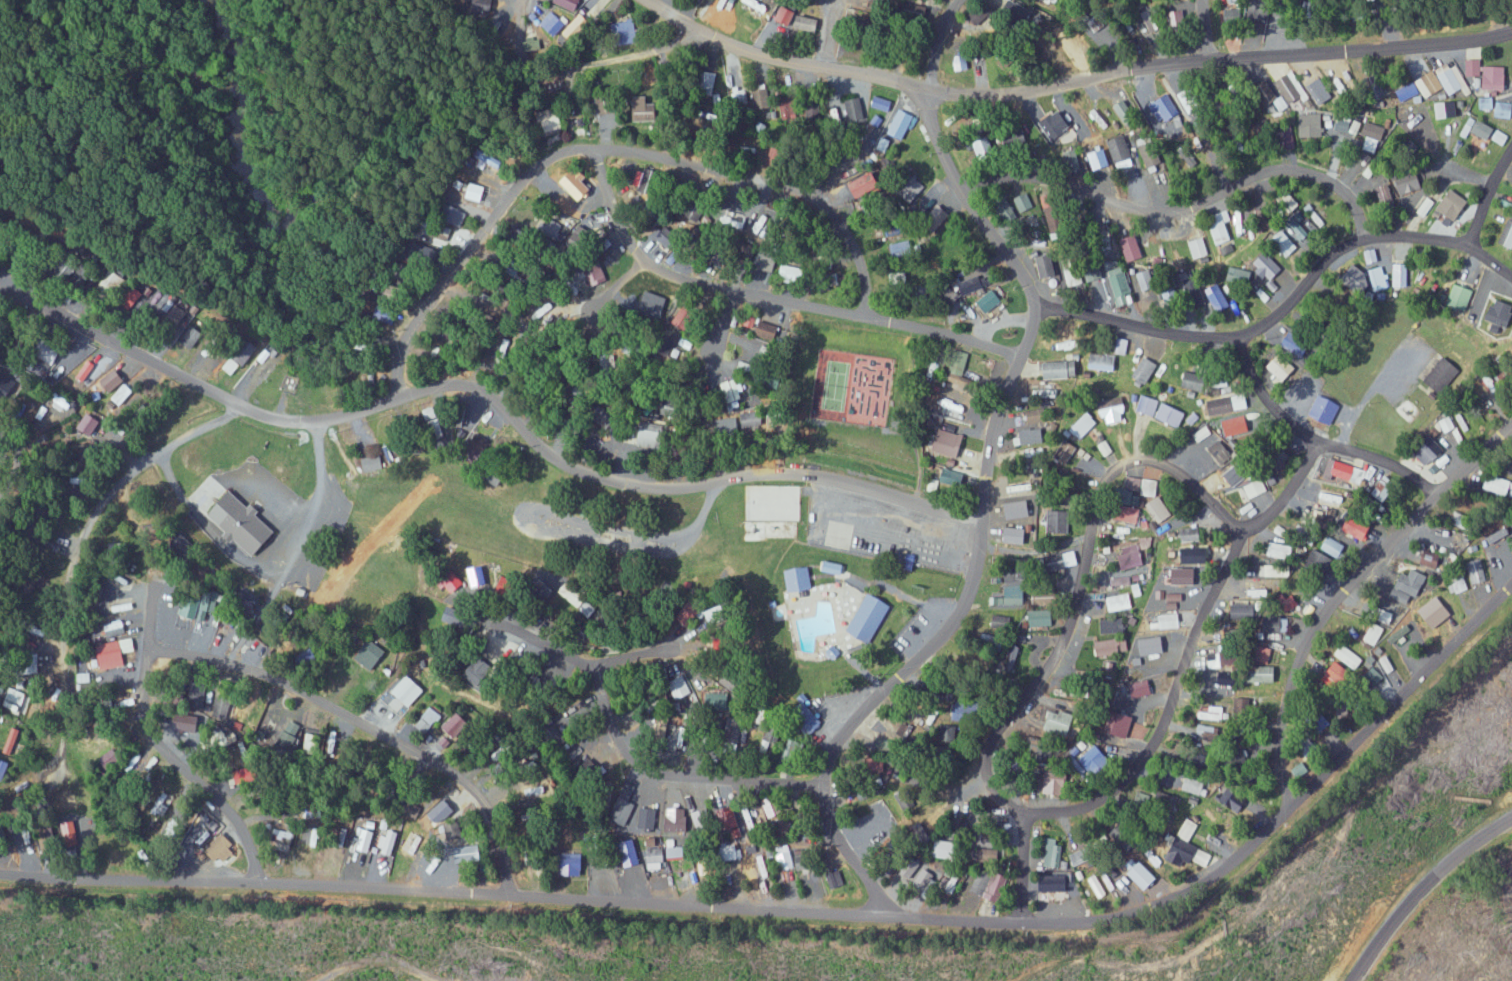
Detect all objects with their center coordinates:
road: (553, 3)
building: (569, 4)
building: (756, 9)
building: (783, 15)
building: (978, 16)
building: (1231, 16)
building: (852, 18)
building: (1179, 19)
building: (1147, 22)
building: (551, 23)
building: (807, 24)
building: (576, 27)
building: (624, 32)
road: (787, 33)
road: (933, 49)
building: (960, 62)
building: (1472, 67)
building: (707, 77)
building: (1450, 78)
building: (1493, 78)
building: (1511, 82)
road: (1069, 83)
building: (1428, 84)
building: (1298, 91)
building: (1407, 91)
building: (759, 98)
building: (1188, 98)
building: (1484, 103)
building: (881, 104)
building: (1162, 109)
building: (1503, 109)
building: (644, 110)
building: (786, 110)
building: (850, 110)
building: (1447, 111)
building: (1125, 112)
building: (900, 124)
building: (1310, 125)
building: (1341, 126)
building: (1481, 129)
building: (1498, 137)
building: (1369, 144)
road: (603, 147)
building: (986, 149)
building: (1117, 149)
building: (1151, 156)
road: (1482, 163)
road: (1492, 184)
building: (577, 185)
building: (1410, 186)
building: (476, 192)
building: (1384, 194)
building: (1023, 203)
building: (1453, 204)
building: (1426, 205)
road: (1184, 206)
building: (689, 211)
building: (1053, 213)
building: (457, 216)
building: (1237, 222)
building: (558, 227)
building: (1299, 231)
building: (1507, 234)
building: (667, 238)
building: (1284, 243)
building: (901, 247)
building: (1196, 247)
building: (1131, 248)
road: (1490, 251)
building: (1179, 254)
building: (1369, 256)
building: (1047, 266)
building: (1266, 266)
building: (794, 273)
road: (611, 275)
building: (1238, 275)
building: (1399, 275)
building: (1144, 280)
building: (1368, 281)
building: (973, 284)
building: (1120, 289)
building: (393, 291)
building: (1460, 296)
building: (1218, 297)
road: (767, 299)
building: (991, 299)
building: (651, 302)
building: (1501, 312)
road: (704, 315)
building: (681, 316)
road: (1274, 323)
building: (768, 329)
building: (190, 334)
building: (1295, 343)
building: (1118, 344)
building: (502, 348)
building: (240, 354)
building: (958, 361)
building: (1100, 361)
building: (1281, 368)
building: (1059, 369)
building: (1144, 369)
building: (1441, 373)
building: (113, 380)
building: (1194, 380)
building: (10, 384)
building: (732, 387)
building: (120, 393)
road: (493, 396)
building: (1115, 404)
building: (1146, 404)
building: (1228, 404)
building: (672, 407)
building: (952, 407)
building: (1325, 408)
building: (1169, 413)
building: (1034, 415)
building: (431, 416)
building: (750, 418)
building: (88, 423)
building: (1081, 425)
building: (1236, 425)
building: (1454, 426)
building: (1201, 433)
road: (1316, 434)
building: (1031, 435)
building: (651, 436)
building: (949, 442)
building: (1067, 449)
building: (1428, 451)
road: (19, 460)
building: (371, 462)
building: (1346, 471)
building: (951, 476)
building: (1245, 478)
building: (1497, 483)
building: (1147, 486)
building: (1383, 487)
building: (1017, 509)
building: (1156, 509)
building: (1125, 513)
building: (242, 521)
building: (1058, 521)
building: (1463, 521)
building: (1353, 524)
road: (84, 525)
road: (985, 525)
building: (777, 529)
building: (1190, 533)
building: (1015, 534)
building: (1505, 545)
building: (1332, 546)
building: (1276, 550)
building: (237, 552)
building: (1492, 552)
building: (1131, 555)
building: (1071, 557)
building: (1432, 558)
building: (1193, 560)
building: (1320, 560)
building: (832, 567)
building: (1272, 570)
building: (1475, 571)
building: (1183, 572)
building: (1014, 575)
building: (798, 578)
road: (1076, 580)
building: (453, 581)
building: (1460, 584)
road: (1347, 585)
building: (1408, 585)
building: (660, 590)
building: (1013, 594)
building: (1116, 602)
building: (189, 605)
building: (1246, 606)
building: (1435, 610)
building: (717, 613)
building: (456, 616)
building: (869, 616)
building: (1041, 617)
building: (1165, 620)
building: (1280, 624)
building: (1111, 626)
building: (1397, 634)
building: (1151, 645)
building: (1110, 647)
road: (1185, 651)
building: (112, 652)
building: (372, 653)
building: (1227, 655)
building: (1347, 657)
building: (1384, 664)
building: (479, 670)
building: (1263, 674)
building: (1338, 677)
building: (738, 687)
building: (1142, 687)
building: (405, 690)
building: (685, 697)
building: (13, 698)
building: (1242, 707)
building: (962, 710)
building: (1212, 713)
building: (429, 717)
building: (1063, 720)
building: (1119, 723)
road: (365, 725)
building: (188, 726)
building: (451, 728)
building: (1206, 732)
building: (904, 733)
building: (291, 735)
building: (11, 740)
building: (793, 750)
road: (627, 756)
building: (110, 757)
building: (1094, 760)
road: (188, 763)
building: (1301, 771)
building: (246, 774)
building: (1055, 782)
road: (974, 783)
building: (1194, 785)
building: (1069, 789)
building: (905, 798)
building: (1233, 799)
building: (442, 810)
building: (878, 811)
building: (647, 817)
building: (703, 818)
building: (748, 822)
building: (676, 824)
building: (172, 827)
building: (283, 831)
building: (313, 831)
building: (365, 839)
building: (387, 841)
building: (412, 841)
building: (220, 846)
building: (1188, 847)
building: (672, 849)
building: (948, 849)
building: (469, 852)
building: (732, 852)
building: (629, 853)
building: (1052, 853)
building: (988, 855)
building: (1080, 855)
building: (654, 858)
building: (755, 859)
building: (791, 861)
building: (572, 863)
building: (704, 865)
road: (1021, 867)
building: (1144, 876)
building: (835, 878)
building: (924, 882)
building: (1055, 883)
building: (990, 884)
building: (1096, 886)
road: (1421, 888)
road: (821, 913)

